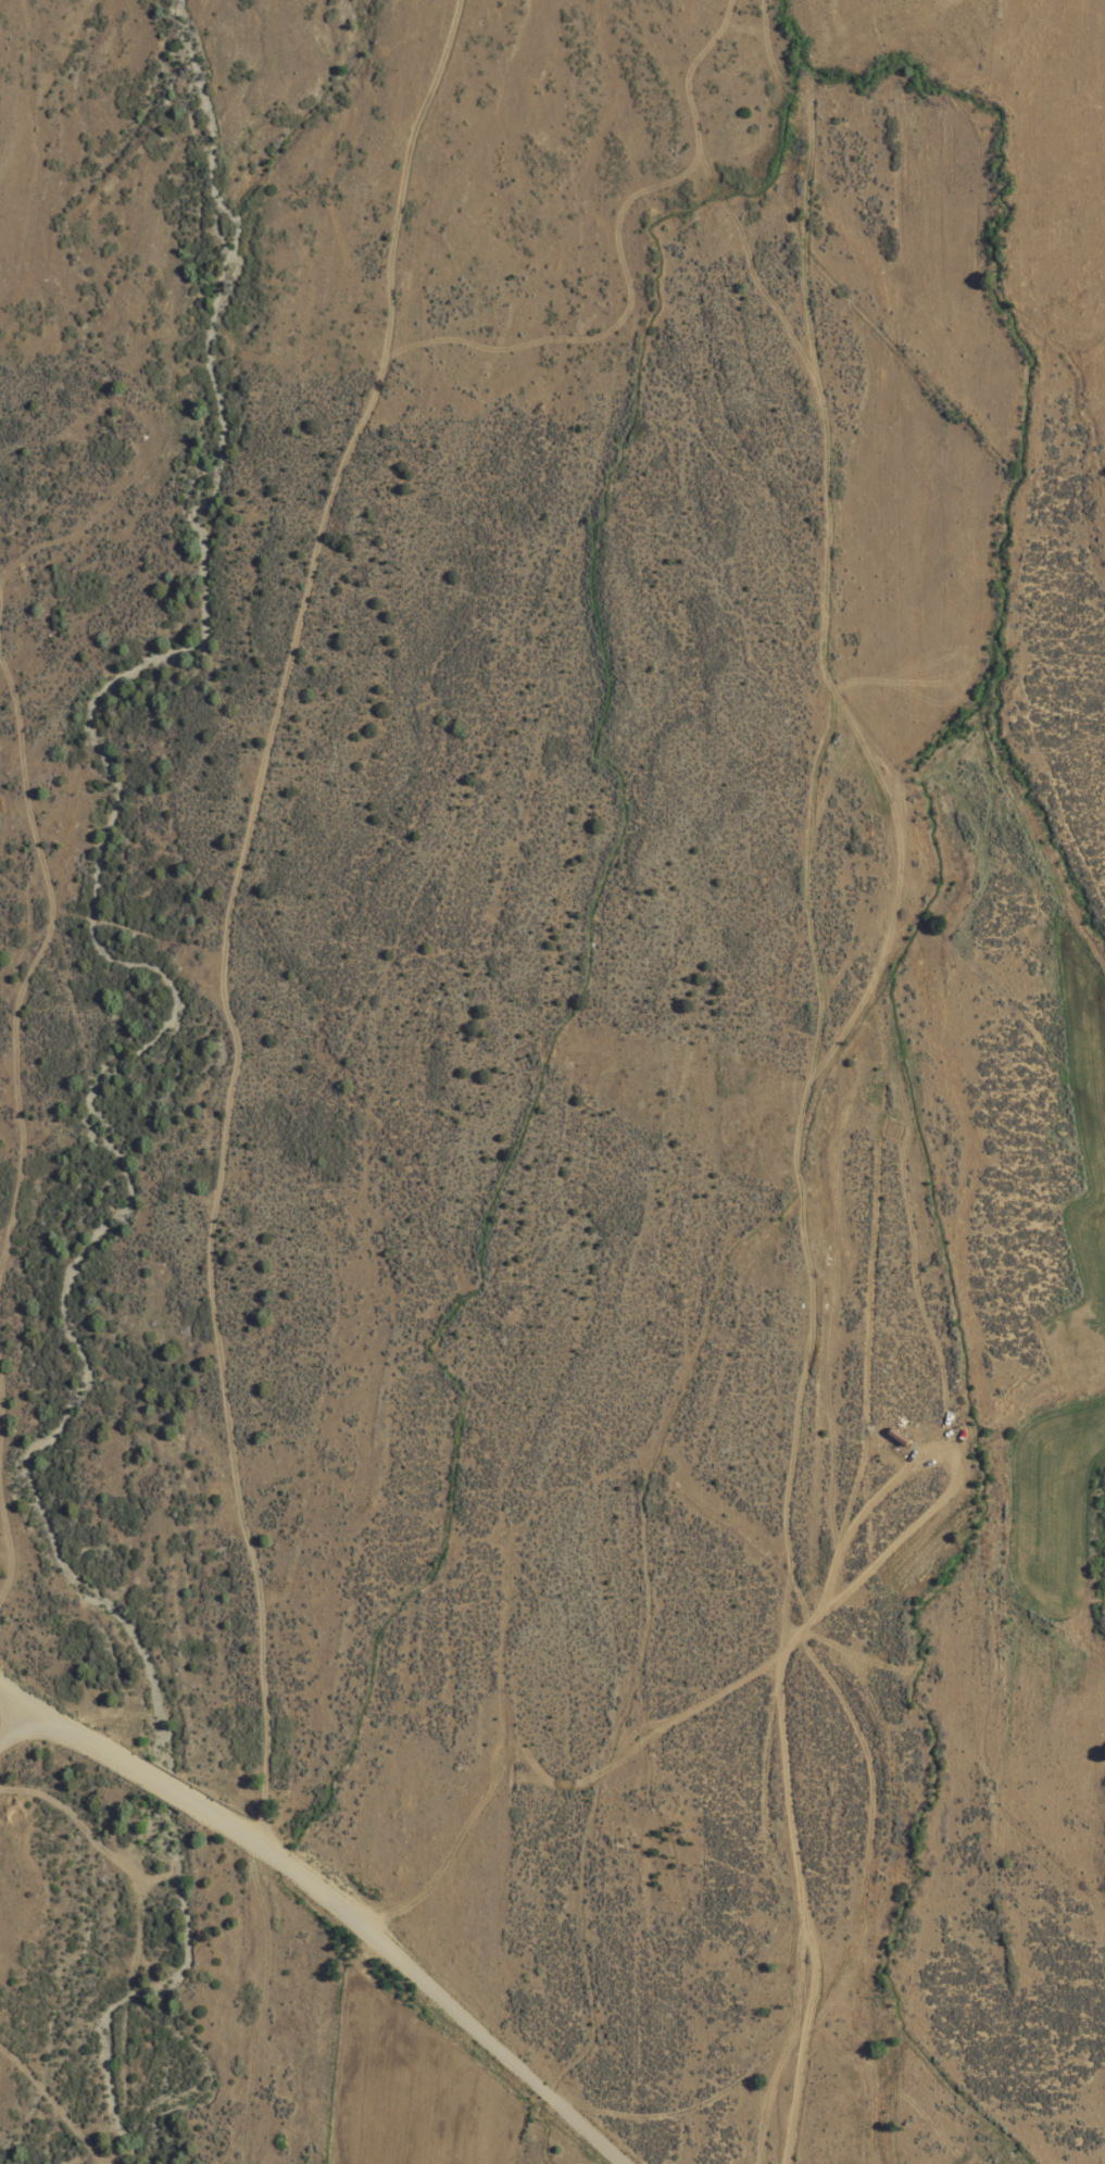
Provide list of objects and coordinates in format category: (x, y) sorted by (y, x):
road: (11, 1723)
road: (331, 1899)
road: (50, 2102)

